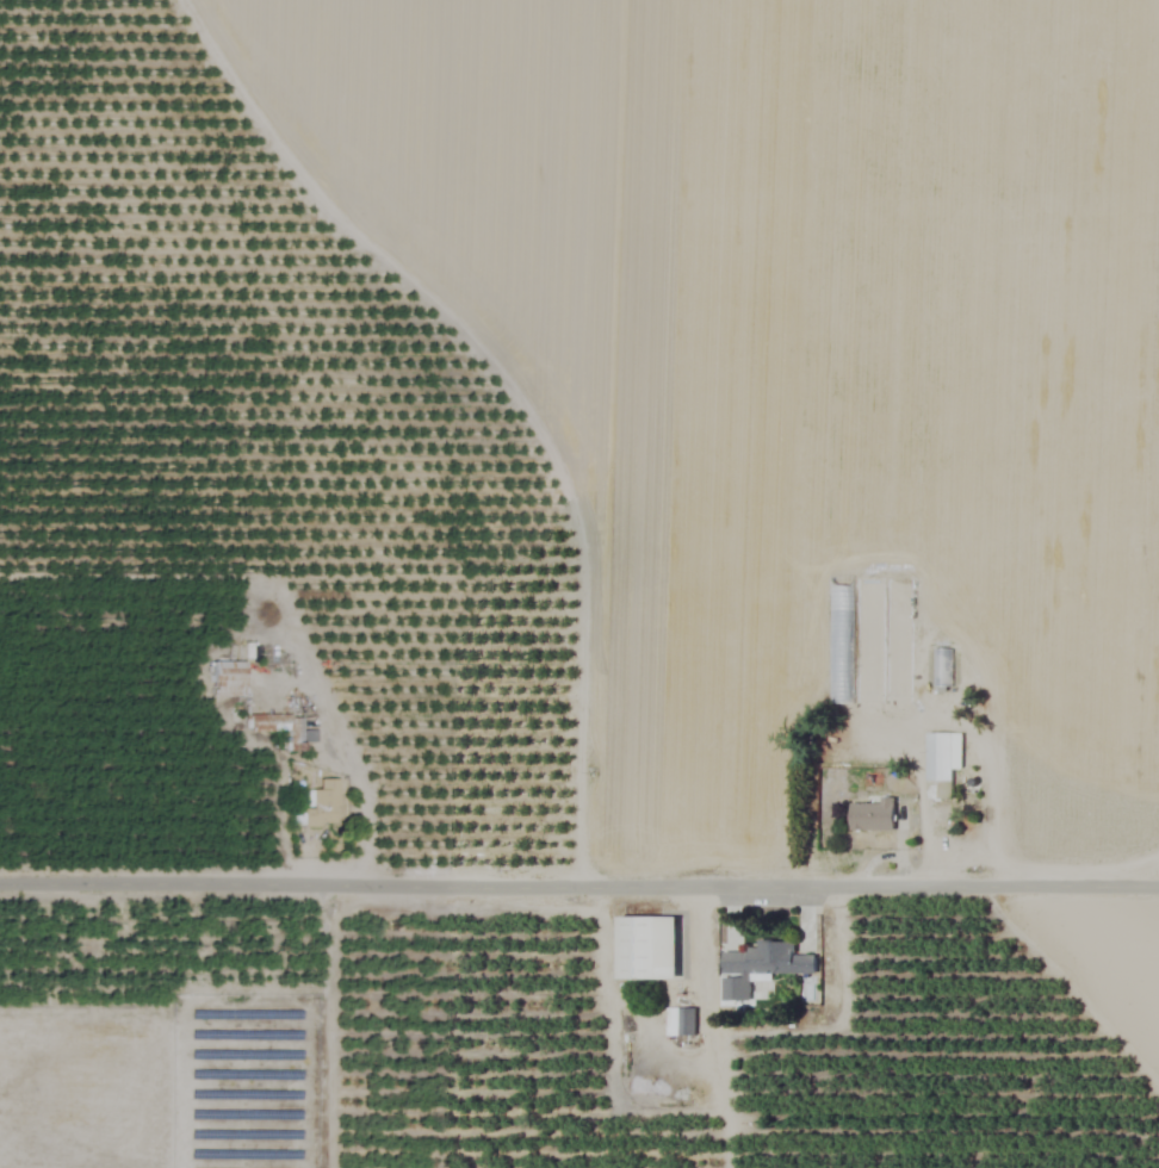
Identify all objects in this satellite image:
crop: (579, 584)
building: (839, 642)
building: (941, 667)
building: (227, 678)
building: (280, 726)
building: (942, 756)
road: (354, 765)
building: (321, 804)
building: (872, 816)
road: (579, 884)
building: (646, 949)
building: (758, 967)
building: (678, 1021)

